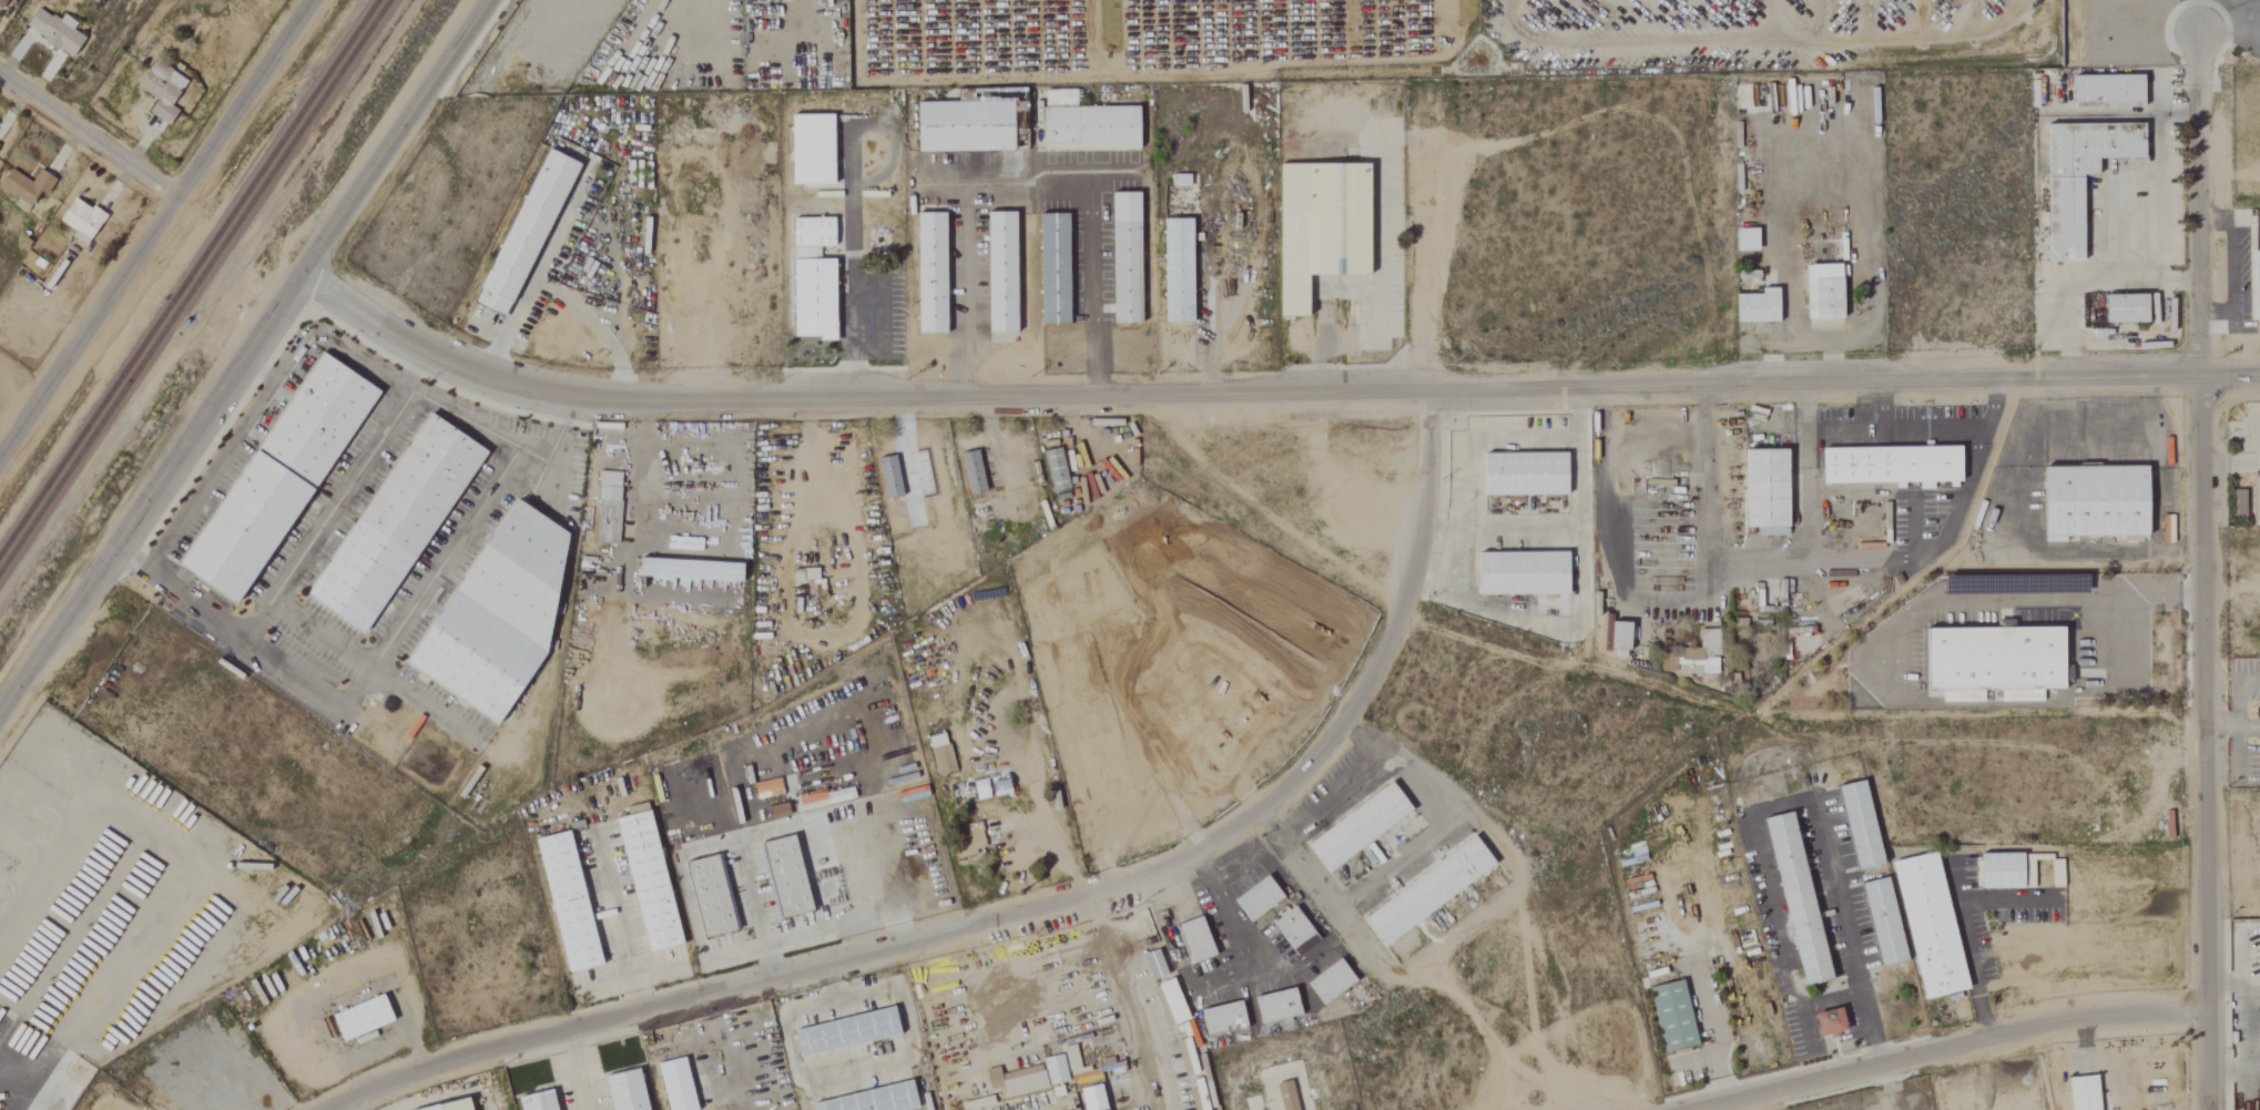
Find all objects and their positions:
building: (3, 2)
road: (2227, 23)
building: (59, 31)
road: (2162, 84)
building: (165, 90)
building: (2104, 90)
building: (968, 120)
building: (1087, 123)
road: (85, 139)
building: (0, 145)
building: (812, 149)
building: (2074, 179)
road: (2158, 179)
building: (29, 187)
road: (1026, 190)
building: (84, 220)
road: (2216, 220)
road: (154, 226)
building: (1321, 226)
building: (531, 233)
building: (1742, 240)
building: (1126, 257)
road: (2230, 265)
building: (1053, 267)
building: (1178, 269)
building: (1001, 271)
building: (932, 272)
railway: (187, 276)
building: (813, 277)
railway: (193, 284)
road: (2087, 284)
building: (2254, 285)
building: (1820, 291)
building: (1753, 306)
building: (2120, 307)
road: (2219, 312)
road: (597, 334)
road: (852, 337)
road: (332, 338)
road: (242, 355)
road: (1829, 361)
road: (1262, 391)
road: (483, 428)
road: (1936, 429)
road: (1482, 440)
building: (1886, 465)
building: (1056, 469)
road: (642, 470)
building: (973, 471)
building: (1520, 473)
building: (278, 477)
building: (885, 477)
road: (210, 479)
building: (1761, 491)
building: (2254, 499)
building: (2089, 502)
building: (608, 507)
road: (328, 515)
building: (396, 522)
road: (1566, 530)
building: (690, 569)
road: (2205, 570)
building: (1517, 573)
road: (2122, 598)
road: (1648, 602)
road: (1966, 603)
building: (491, 615)
road: (1523, 620)
building: (1615, 637)
building: (1697, 656)
building: (1991, 661)
building: (1663, 664)
road: (373, 670)
road: (365, 672)
road: (2249, 682)
building: (1946, 696)
road: (2233, 731)
road: (2236, 732)
building: (939, 754)
building: (2257, 761)
building: (984, 787)
road: (1790, 804)
building: (1855, 825)
building: (1355, 827)
building: (1996, 870)
road: (1297, 872)
road: (1142, 874)
building: (781, 877)
building: (643, 882)
building: (1424, 890)
road: (1363, 893)
building: (705, 896)
building: (1253, 899)
building: (1792, 899)
building: (562, 902)
road: (755, 910)
building: (1879, 923)
building: (1925, 926)
road: (617, 927)
building: (1291, 931)
building: (1191, 940)
building: (2258, 950)
road: (1967, 953)
building: (1151, 965)
road: (1112, 971)
building: (1326, 982)
road: (834, 987)
road: (1831, 996)
building: (1168, 997)
building: (1272, 1006)
building: (365, 1017)
building: (1668, 1017)
building: (1219, 1019)
building: (1825, 1022)
road: (1716, 1029)
road: (720, 1032)
building: (841, 1032)
road: (1947, 1047)
building: (1069, 1058)
road: (1693, 1062)
road: (579, 1069)
building: (1052, 1070)
building: (1016, 1082)
building: (631, 1090)
building: (2080, 1093)
road: (10, 1094)
building: (1284, 1096)
building: (1089, 1098)
building: (546, 1100)
building: (869, 1100)
road: (345, 1104)
road: (18, 1106)
building: (457, 1106)

